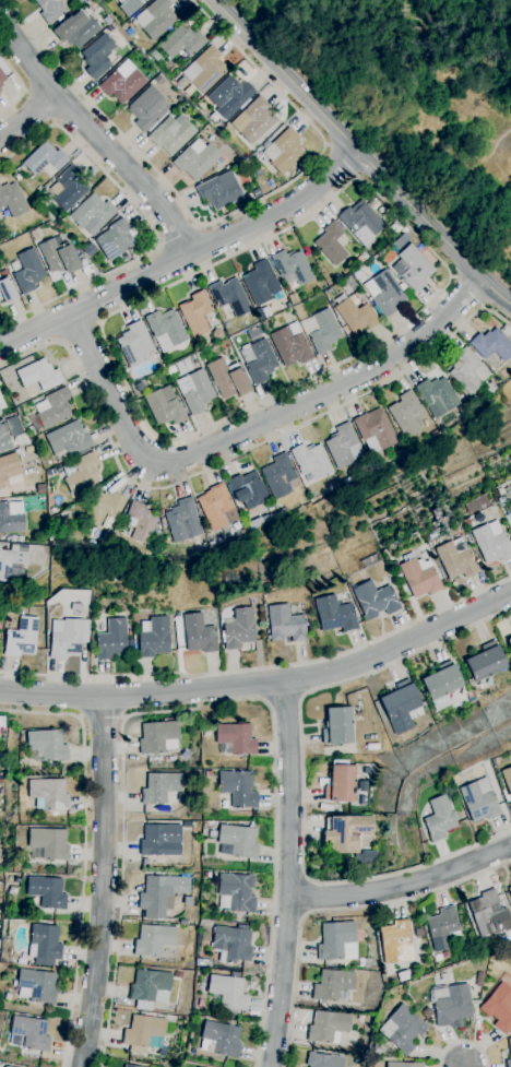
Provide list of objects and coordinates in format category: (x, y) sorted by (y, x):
building: (81, 1)
building: (100, 1)
building: (131, 3)
river: (468, 3)
building: (50, 10)
building: (155, 19)
building: (75, 28)
building: (182, 42)
building: (154, 55)
building: (98, 56)
building: (204, 70)
building: (1, 79)
building: (158, 80)
building: (122, 82)
road: (22, 85)
road: (26, 91)
building: (229, 96)
park: (423, 96)
road: (40, 105)
building: (148, 109)
road: (28, 116)
building: (253, 120)
road: (54, 122)
building: (171, 133)
road: (97, 137)
building: (283, 151)
road: (360, 153)
building: (195, 159)
building: (44, 161)
road: (340, 162)
building: (70, 188)
building: (219, 191)
building: (13, 200)
building: (92, 212)
road: (224, 216)
road: (148, 220)
building: (360, 220)
road: (197, 226)
building: (404, 230)
building: (35, 234)
road: (178, 237)
building: (1, 238)
building: (115, 240)
building: (332, 242)
road: (158, 246)
building: (58, 256)
road: (185, 258)
building: (358, 260)
building: (293, 266)
building: (412, 268)
building: (27, 271)
building: (3, 273)
building: (261, 283)
building: (7, 291)
building: (385, 293)
road: (467, 293)
building: (229, 296)
building: (293, 298)
building: (288, 306)
building: (195, 313)
building: (356, 315)
road: (98, 322)
building: (265, 324)
building: (166, 329)
road: (79, 331)
building: (323, 331)
building: (506, 331)
building: (254, 333)
road: (62, 342)
building: (134, 344)
building: (290, 344)
building: (491, 345)
building: (258, 360)
building: (468, 371)
building: (39, 375)
building: (228, 378)
building: (140, 387)
building: (195, 391)
building: (437, 395)
building: (466, 405)
building: (164, 406)
building: (54, 408)
building: (405, 413)
road: (251, 428)
building: (31, 430)
building: (375, 430)
building: (436, 434)
road: (187, 436)
building: (4, 441)
building: (68, 441)
building: (341, 444)
building: (399, 446)
road: (229, 458)
building: (311, 462)
building: (8, 469)
building: (81, 472)
building: (281, 476)
building: (337, 484)
building: (248, 489)
building: (104, 507)
building: (217, 507)
building: (284, 511)
building: (508, 511)
building: (11, 517)
building: (508, 519)
building: (183, 521)
building: (466, 521)
building: (142, 522)
building: (255, 523)
building: (156, 535)
building: (13, 538)
building: (20, 538)
building: (167, 541)
building: (491, 542)
building: (159, 549)
building: (456, 559)
building: (11, 562)
building: (416, 576)
building: (451, 585)
building: (375, 600)
building: (75, 606)
building: (0, 609)
building: (334, 614)
building: (285, 624)
building: (238, 629)
building: (199, 633)
building: (153, 637)
building: (22, 638)
building: (69, 638)
building: (111, 640)
building: (509, 642)
building: (486, 662)
road: (263, 666)
road: (263, 681)
building: (441, 685)
road: (307, 692)
building: (470, 695)
road: (287, 697)
road: (268, 703)
building: (401, 706)
road: (204, 707)
road: (102, 714)
road: (81, 716)
road: (122, 716)
building: (1, 723)
building: (337, 726)
building: (158, 736)
building: (236, 738)
building: (46, 746)
building: (207, 772)
building: (507, 779)
road: (301, 780)
building: (1, 782)
building: (341, 783)
building: (159, 787)
building: (238, 789)
building: (48, 794)
building: (506, 798)
building: (478, 801)
building: (438, 818)
building: (346, 832)
building: (212, 833)
building: (161, 840)
building: (237, 841)
building: (49, 843)
road: (84, 852)
road: (289, 874)
building: (206, 875)
road: (102, 882)
road: (403, 885)
building: (509, 890)
building: (46, 891)
building: (235, 892)
building: (161, 893)
building: (188, 901)
road: (335, 912)
building: (487, 913)
building: (0, 917)
building: (183, 922)
building: (442, 928)
building: (154, 939)
building: (335, 939)
building: (396, 941)
building: (231, 944)
building: (44, 945)
building: (441, 957)
building: (178, 974)
building: (404, 975)
building: (479, 979)
building: (332, 984)
building: (36, 985)
building: (150, 988)
building: (227, 991)
building: (451, 1006)
building: (499, 1008)
building: (427, 1013)
building: (360, 1018)
building: (328, 1027)
building: (402, 1029)
building: (29, 1033)
building: (145, 1033)
building: (219, 1039)
road: (463, 1042)
building: (376, 1048)
building: (509, 1053)
building: (323, 1060)
building: (357, 1060)
building: (403, 1065)
road: (462, 1065)
building: (5, 1066)
building: (129, 1066)

